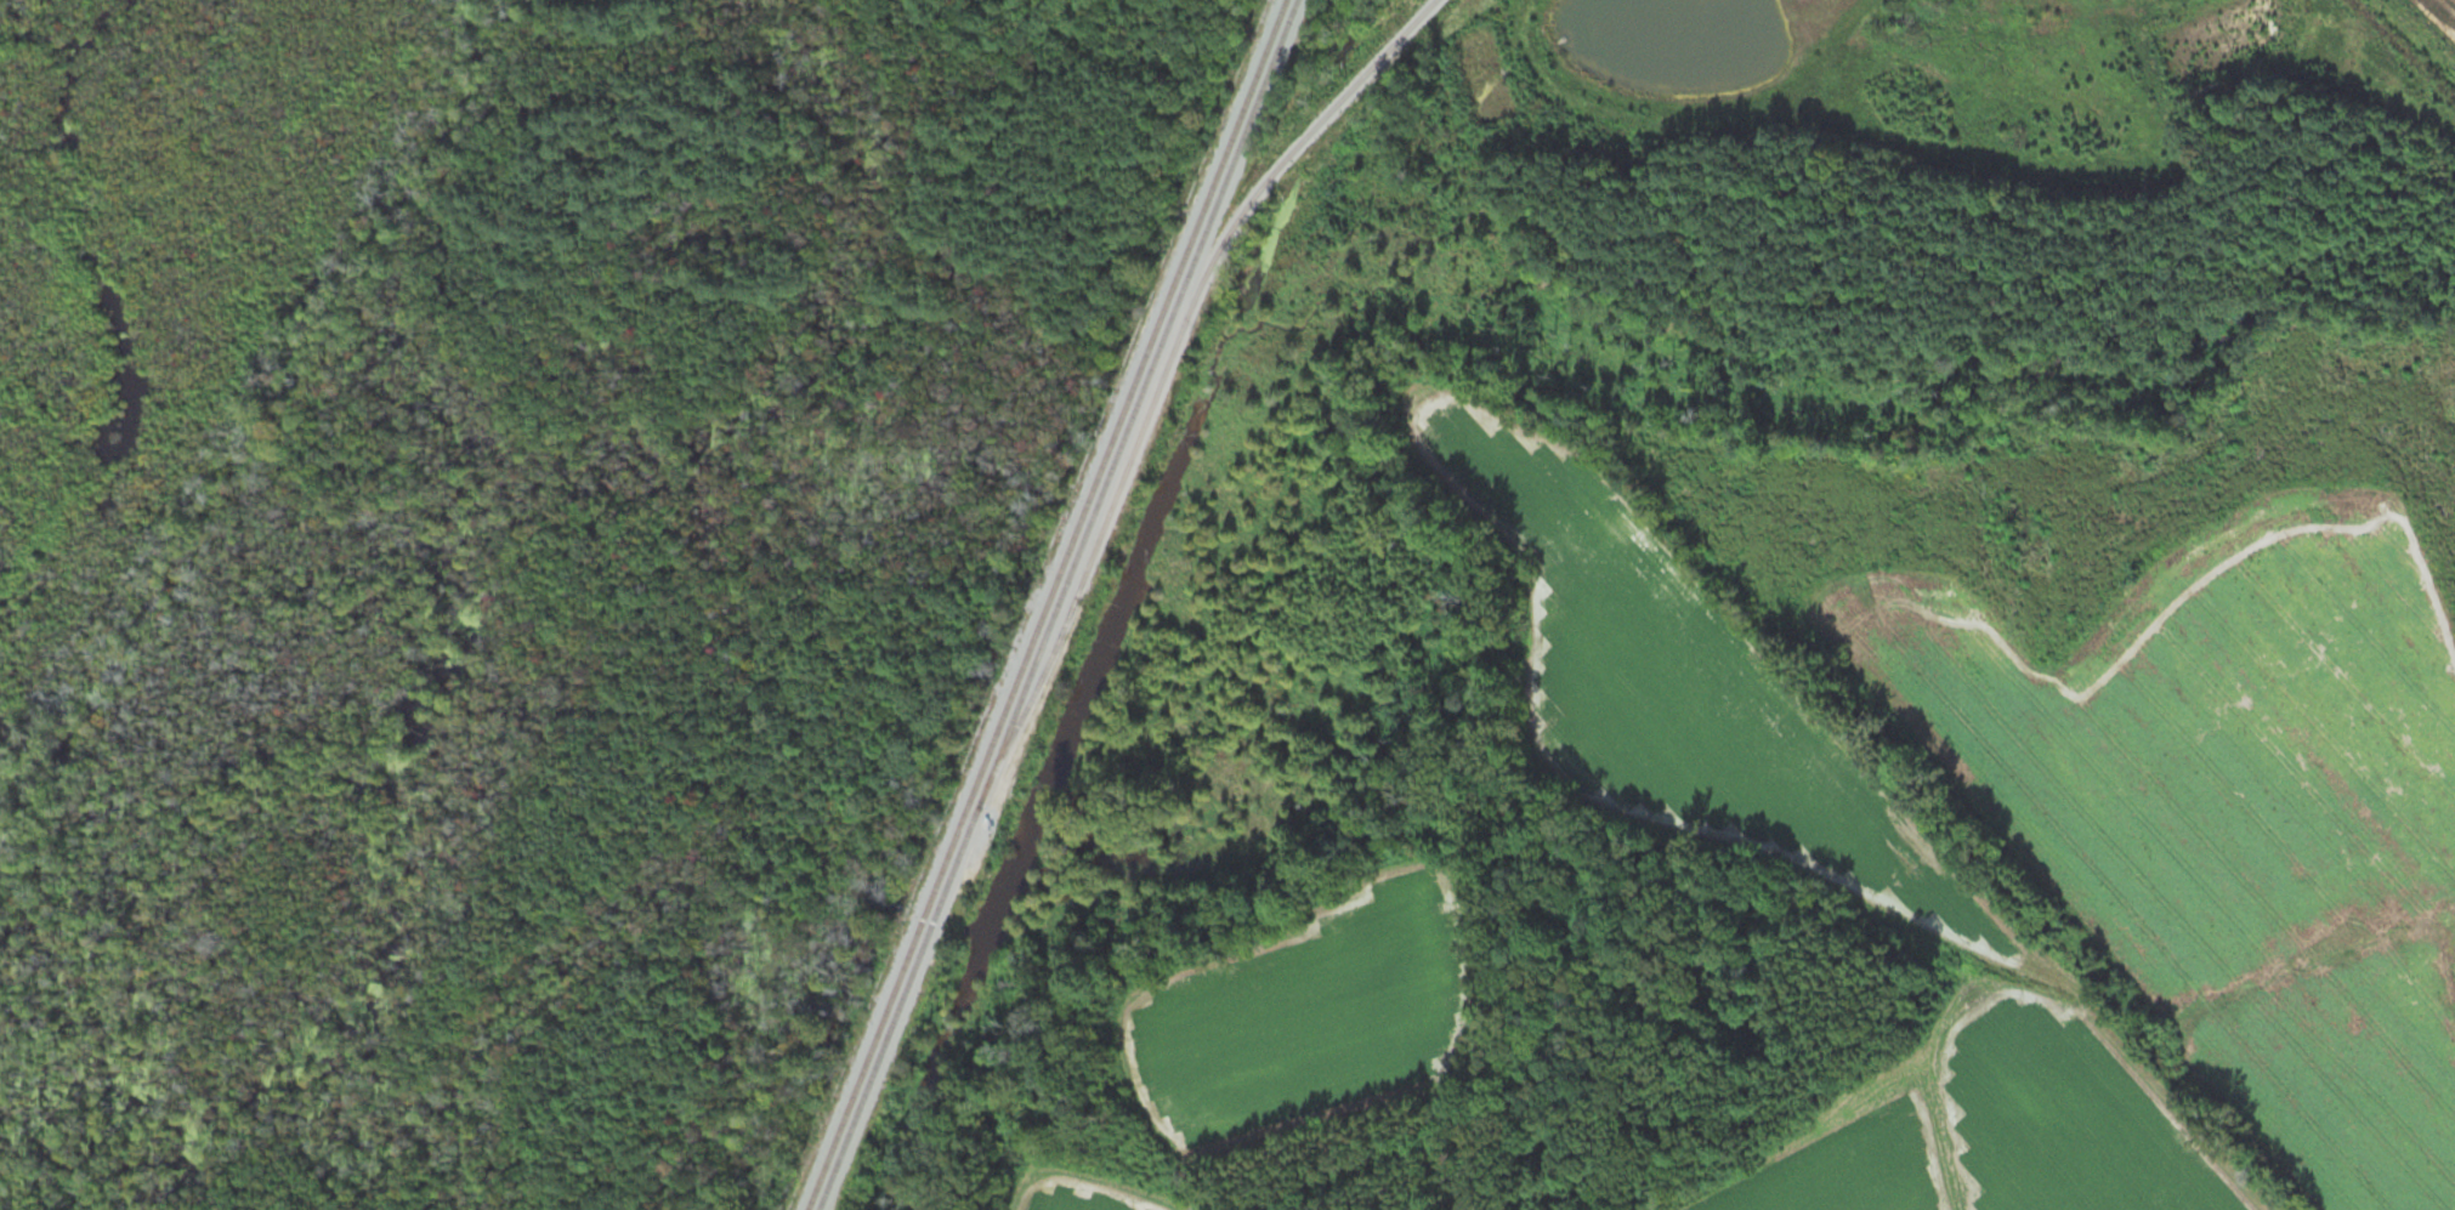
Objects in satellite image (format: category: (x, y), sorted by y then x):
railway: (1166, 374)
railway: (1044, 604)
railway: (1056, 604)

